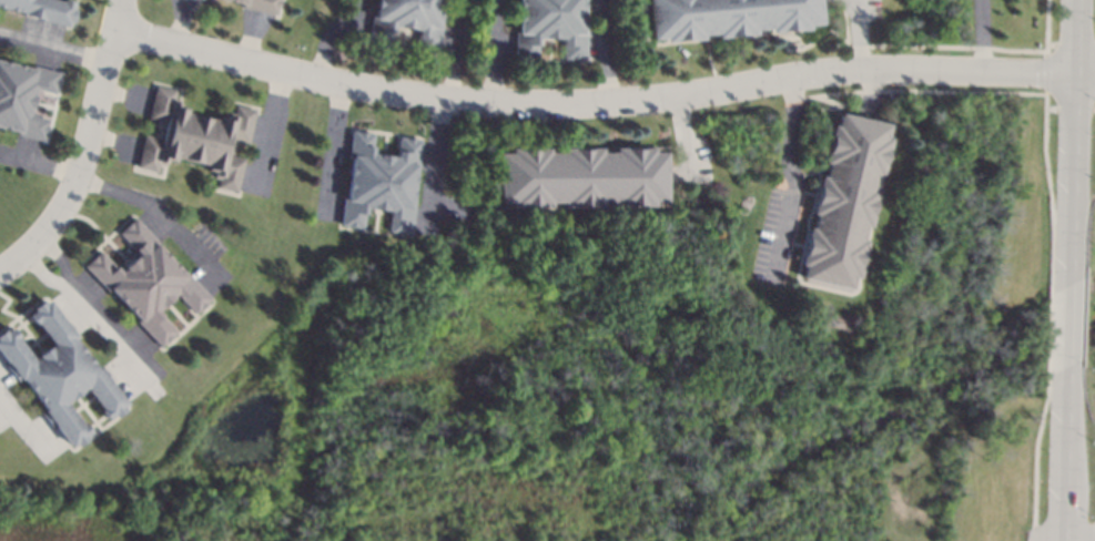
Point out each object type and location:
building: (260, 4)
building: (41, 9)
building: (727, 17)
building: (407, 22)
building: (549, 27)
road: (331, 30)
road: (862, 35)
road: (982, 38)
road: (55, 51)
road: (455, 53)
road: (496, 53)
road: (598, 53)
road: (1085, 79)
building: (22, 98)
road: (595, 106)
building: (193, 137)
road: (683, 140)
road: (1073, 140)
road: (89, 144)
road: (335, 147)
road: (433, 165)
road: (40, 166)
building: (580, 176)
road: (791, 177)
building: (378, 182)
building: (842, 201)
road: (146, 205)
road: (8, 272)
building: (143, 280)
road: (90, 308)
road: (1068, 324)
building: (57, 374)
park: (694, 402)
road: (20, 417)
road: (1064, 453)

